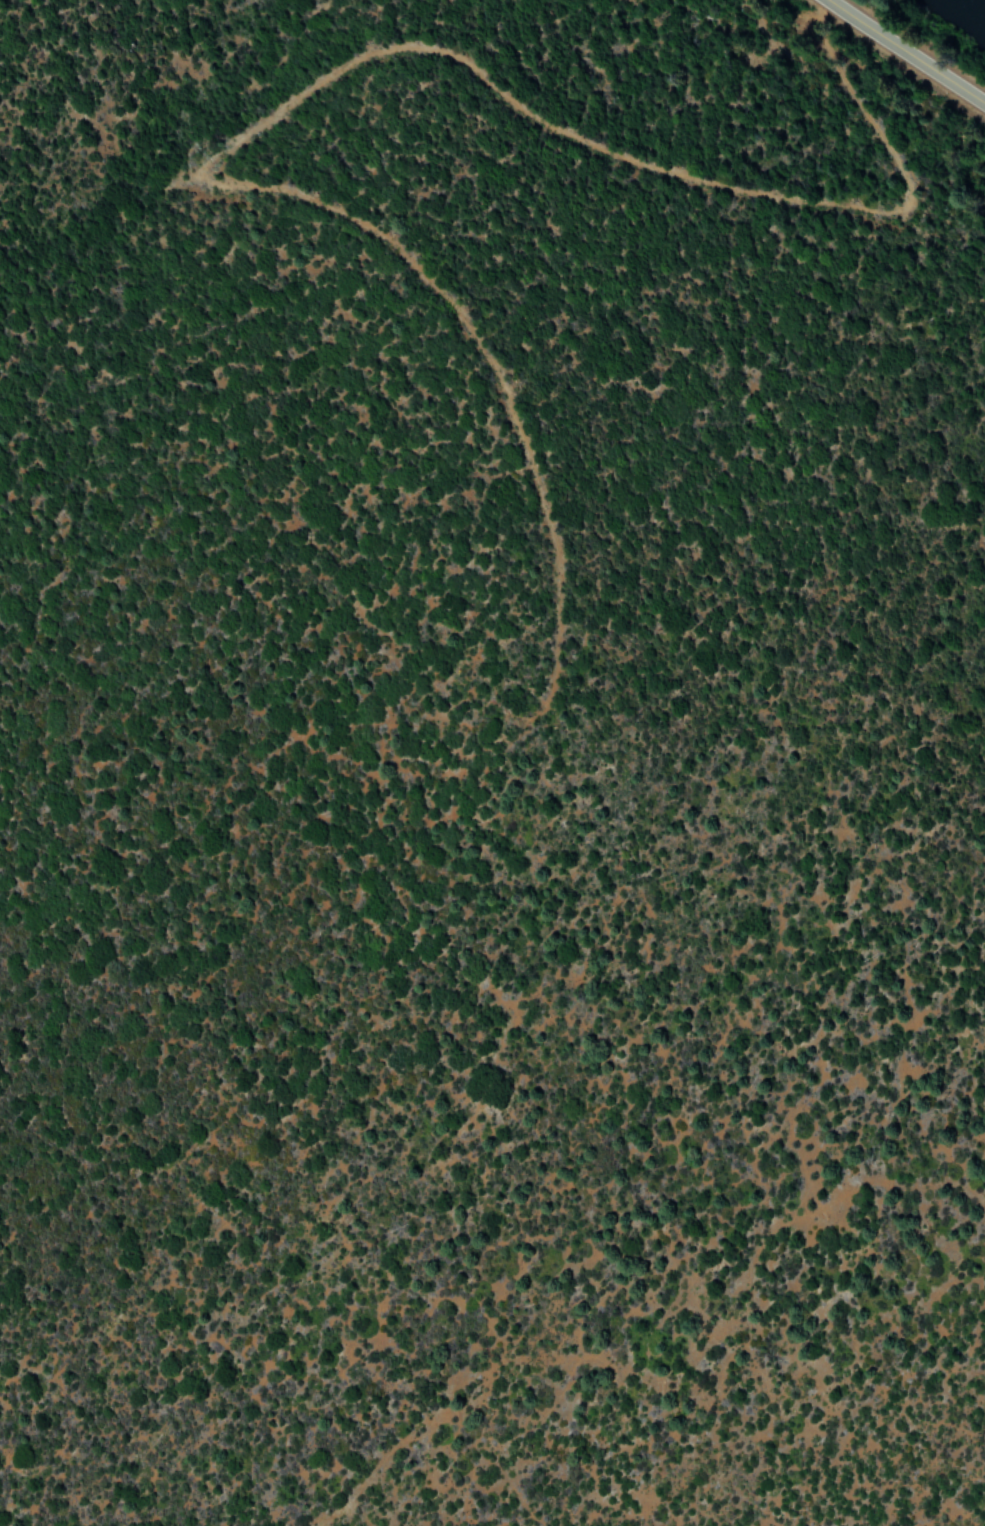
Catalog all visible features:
road: (906, 54)

